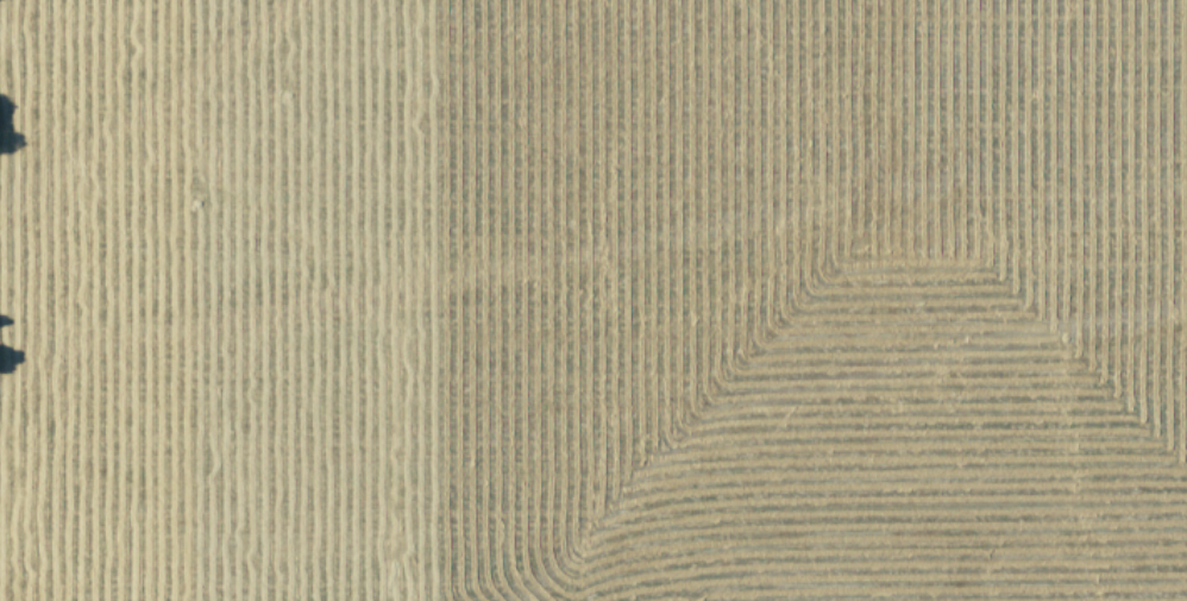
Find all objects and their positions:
crop: (604, 300)

